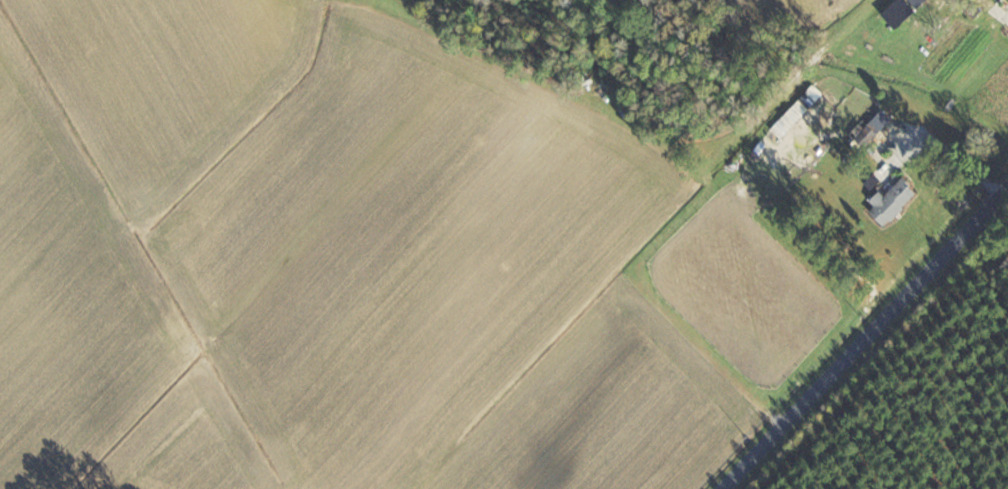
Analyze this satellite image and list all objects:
building: (910, 1)
building: (889, 201)
road: (864, 336)

